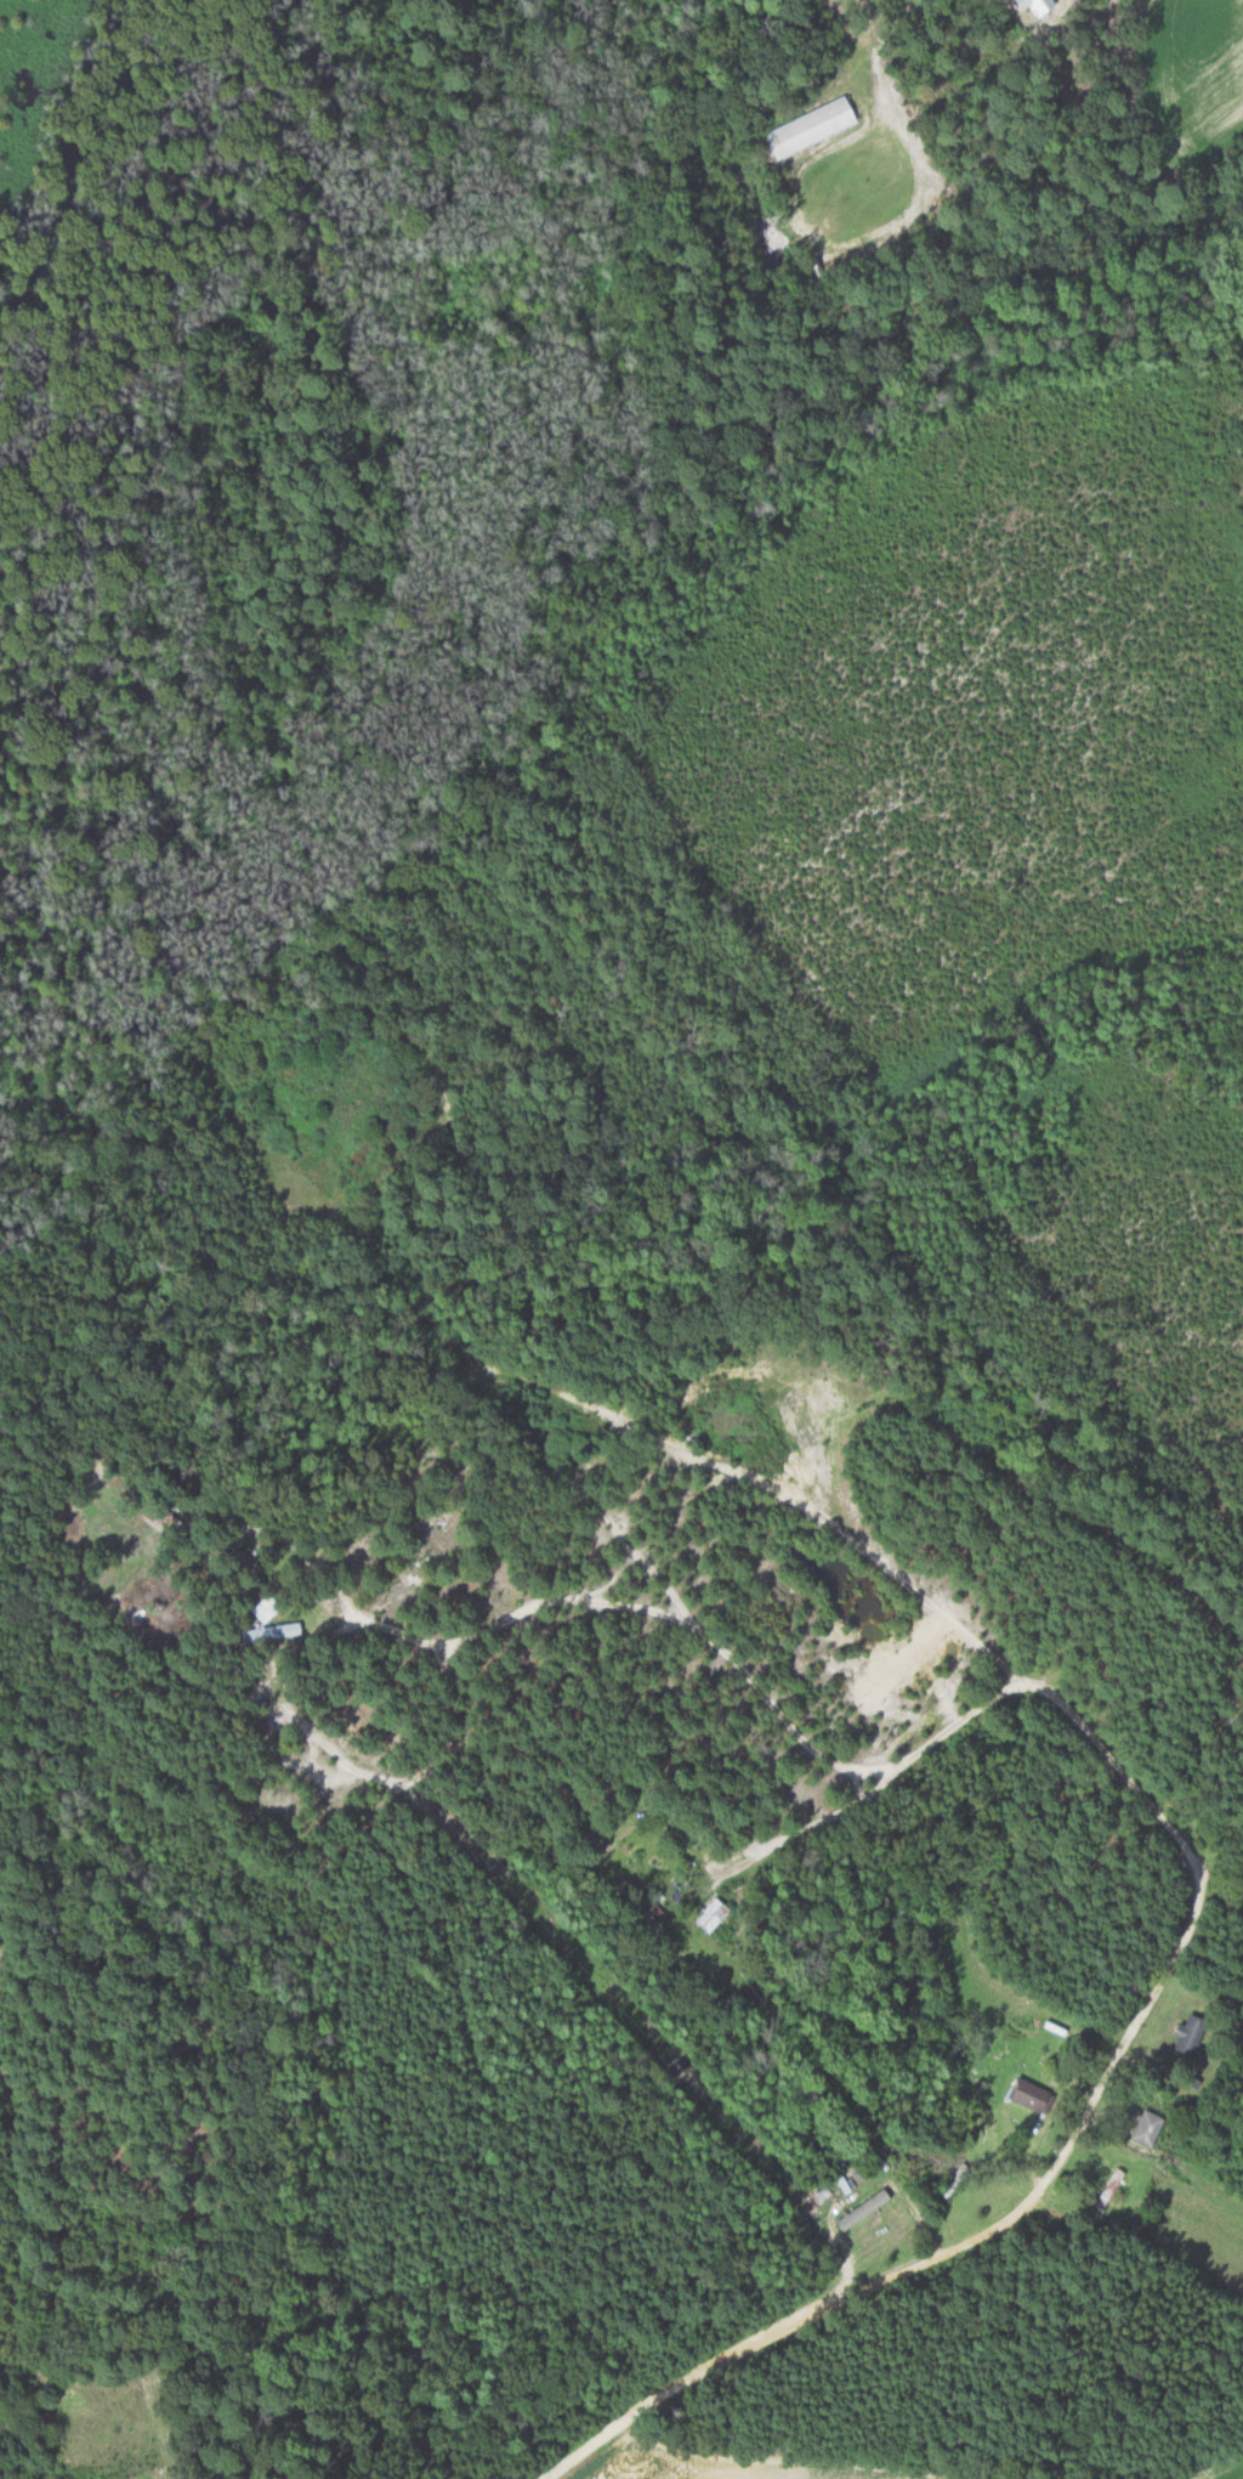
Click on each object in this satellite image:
building: (811, 126)
river: (53, 160)
road: (815, 1823)
road: (1175, 1953)
building: (1191, 2032)
building: (1034, 2094)
building: (1148, 2126)
building: (863, 2208)

